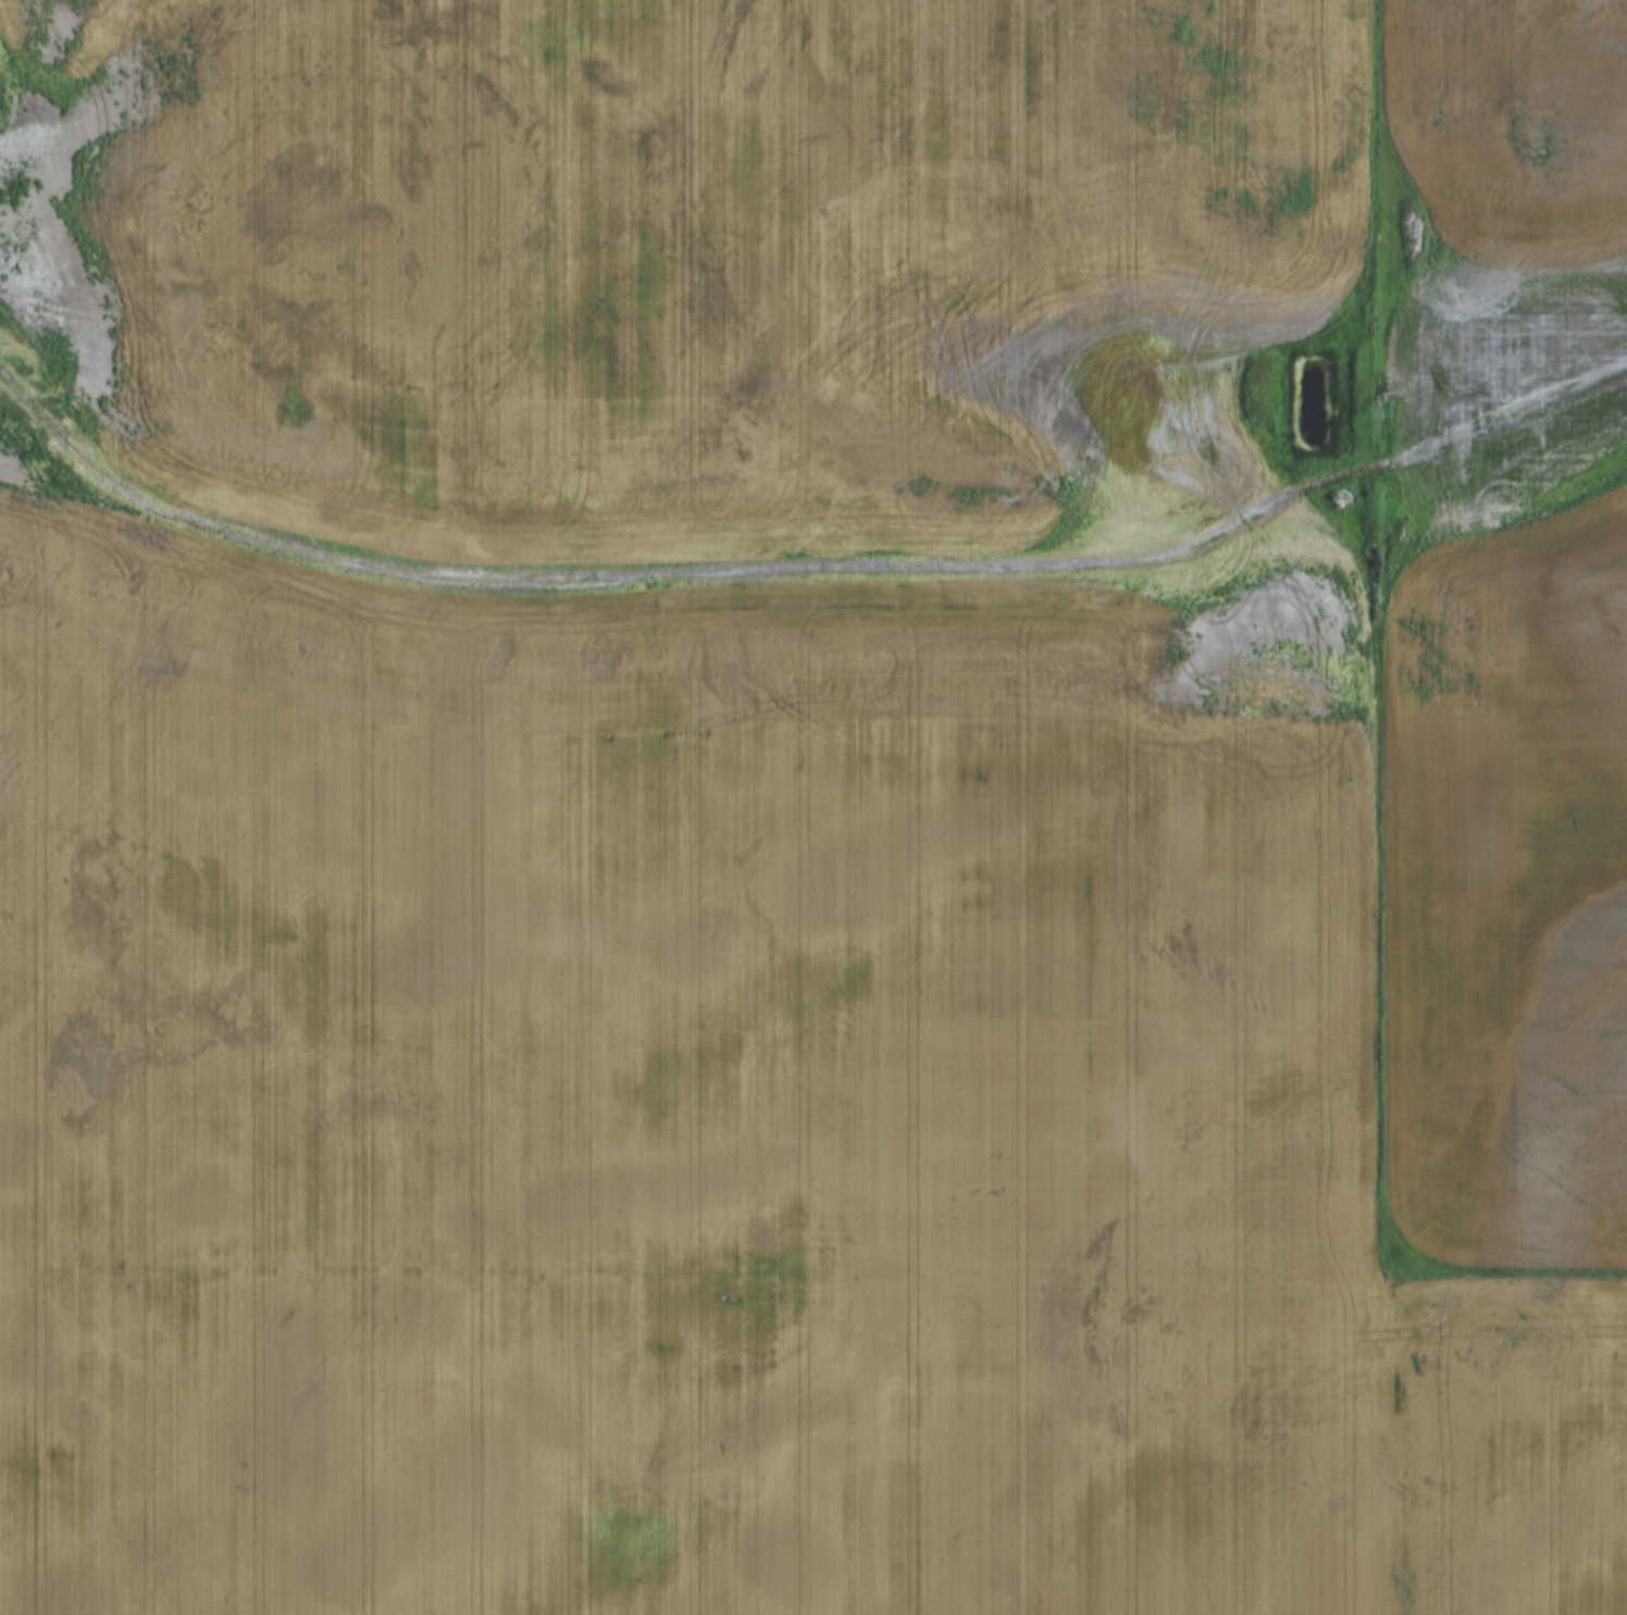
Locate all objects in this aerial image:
road: (931, 577)
road: (1382, 1015)

